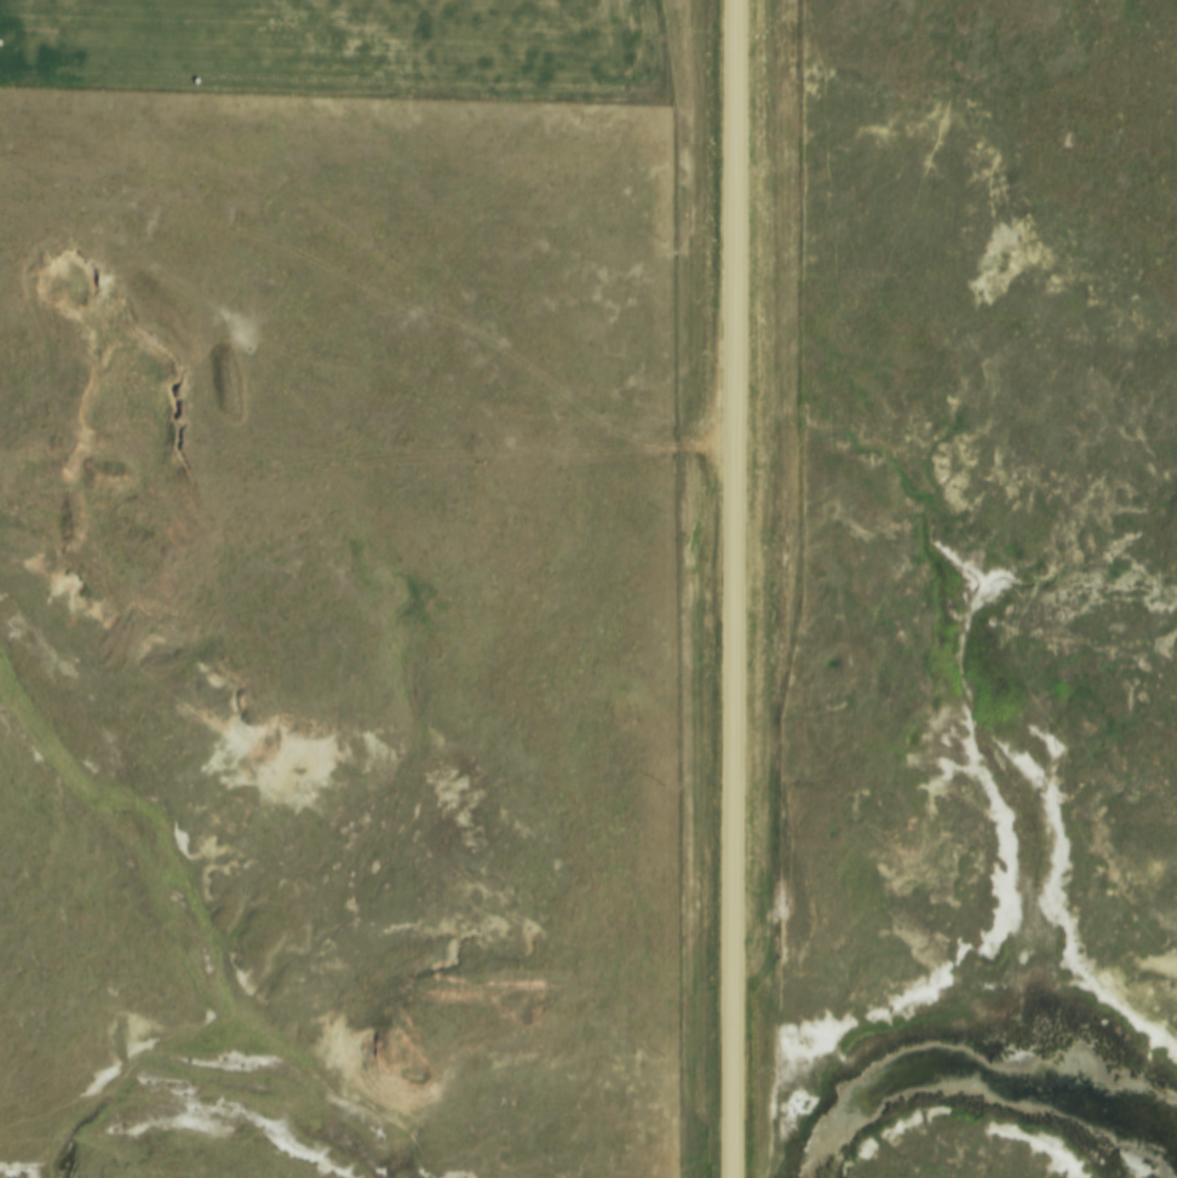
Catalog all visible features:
road: (736, 588)

